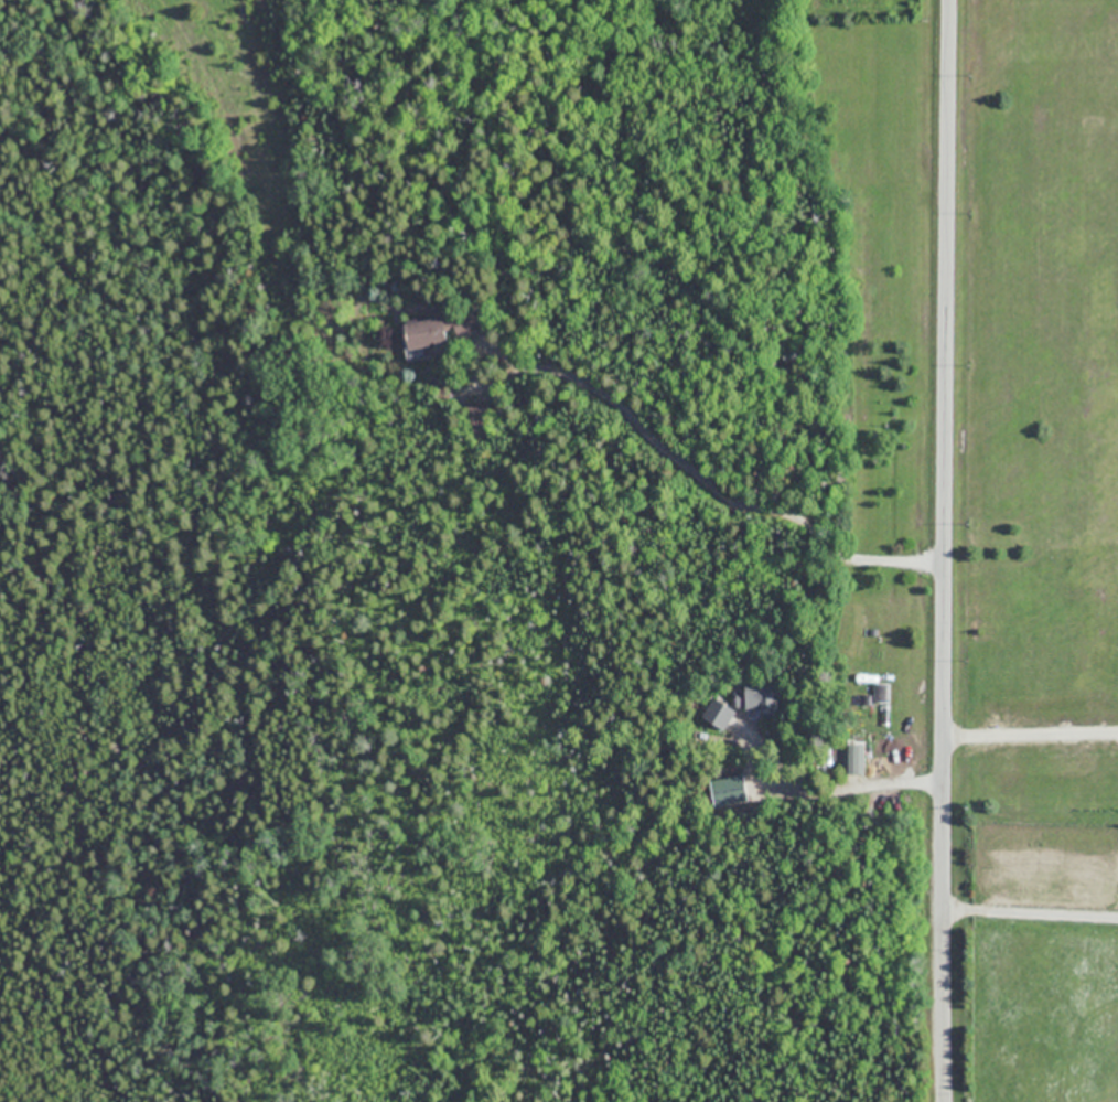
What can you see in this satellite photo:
building: (424, 334)
building: (477, 407)
road: (710, 483)
road: (944, 550)
building: (752, 695)
road: (1031, 735)
building: (853, 757)
road: (891, 782)
road: (1031, 907)

